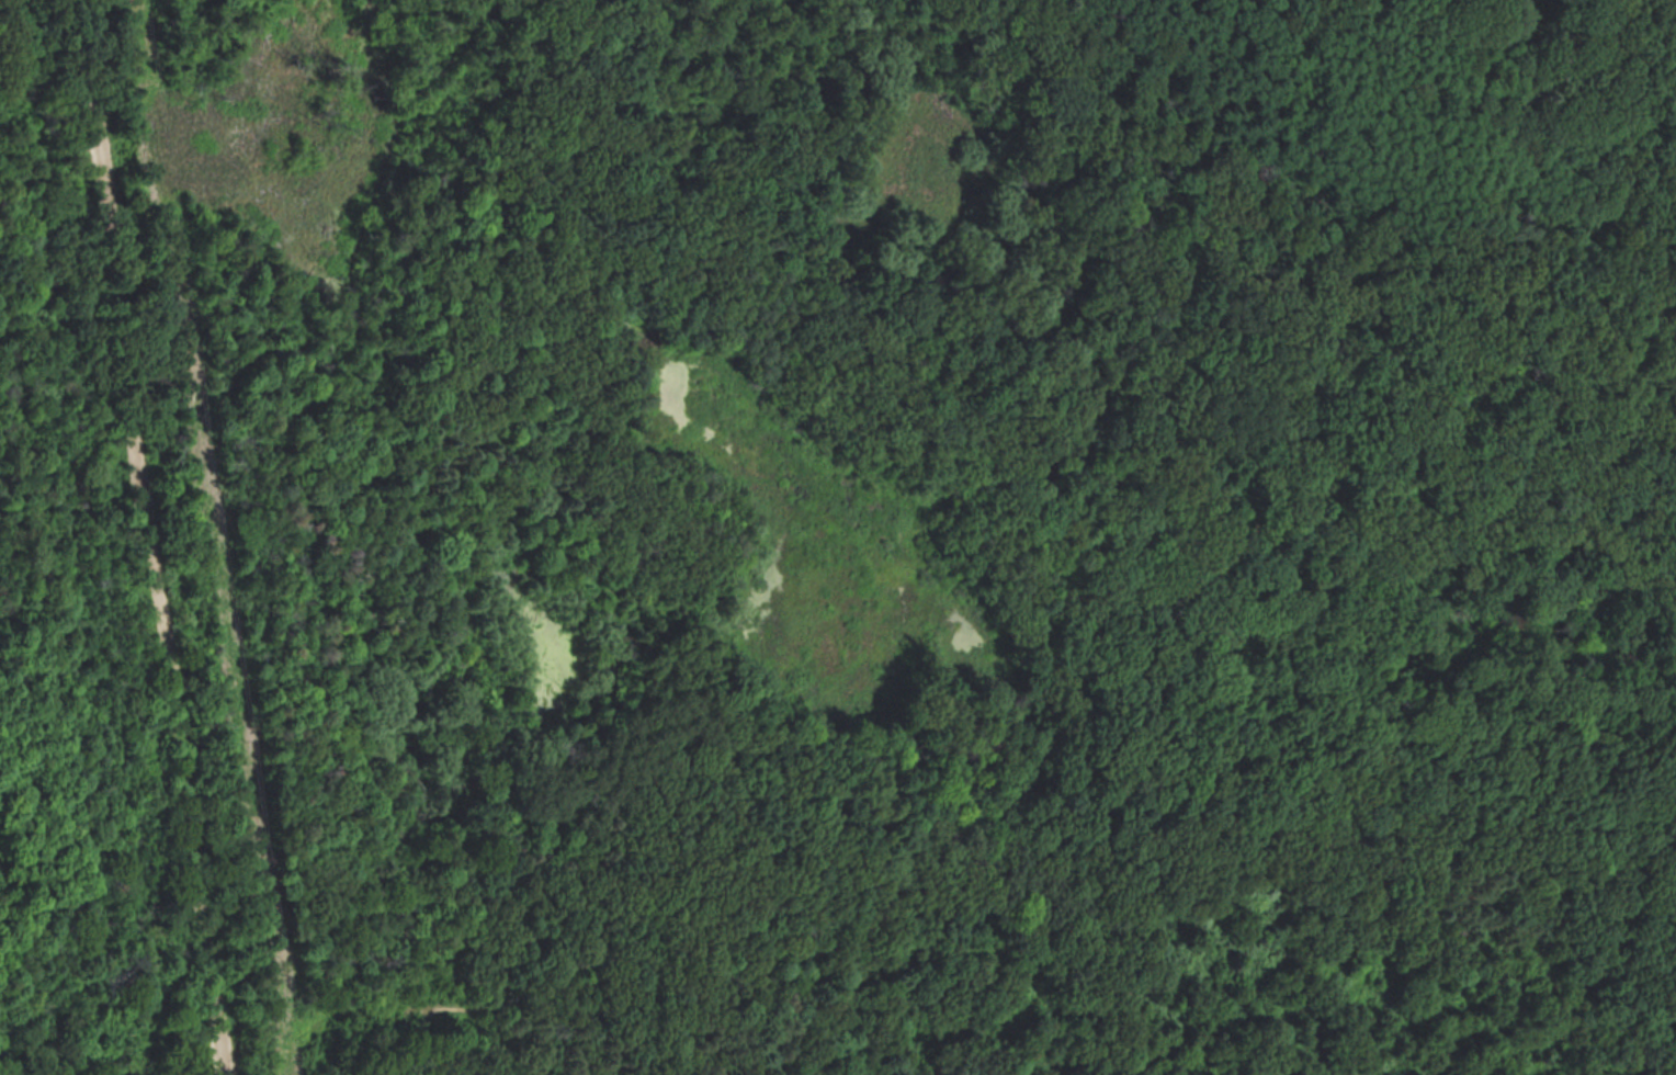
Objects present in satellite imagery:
road: (152, 537)
park: (838, 537)
road: (1577, 985)
road: (495, 1008)

